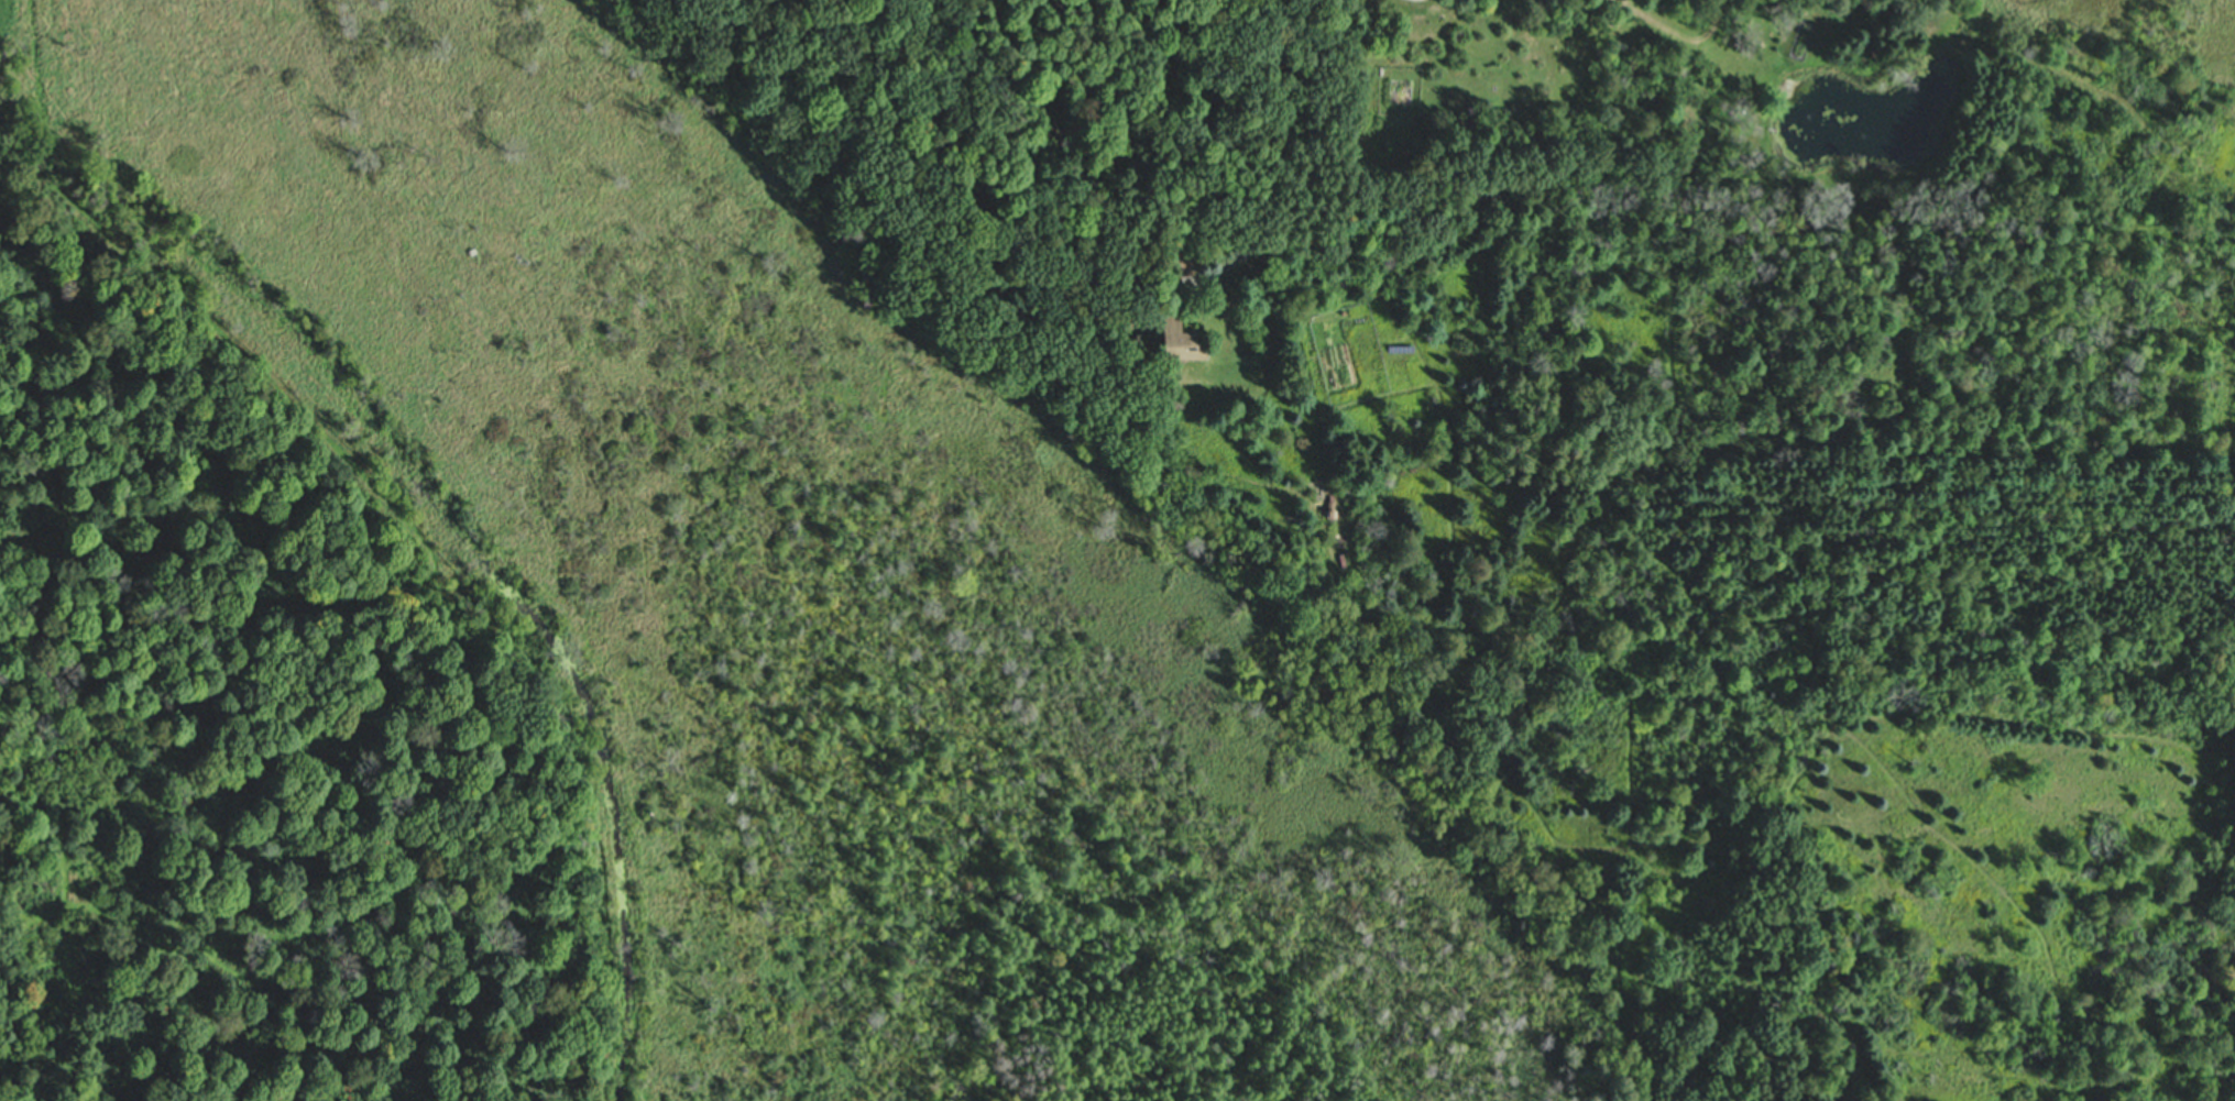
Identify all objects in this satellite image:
road: (1297, 173)
building: (1168, 341)

